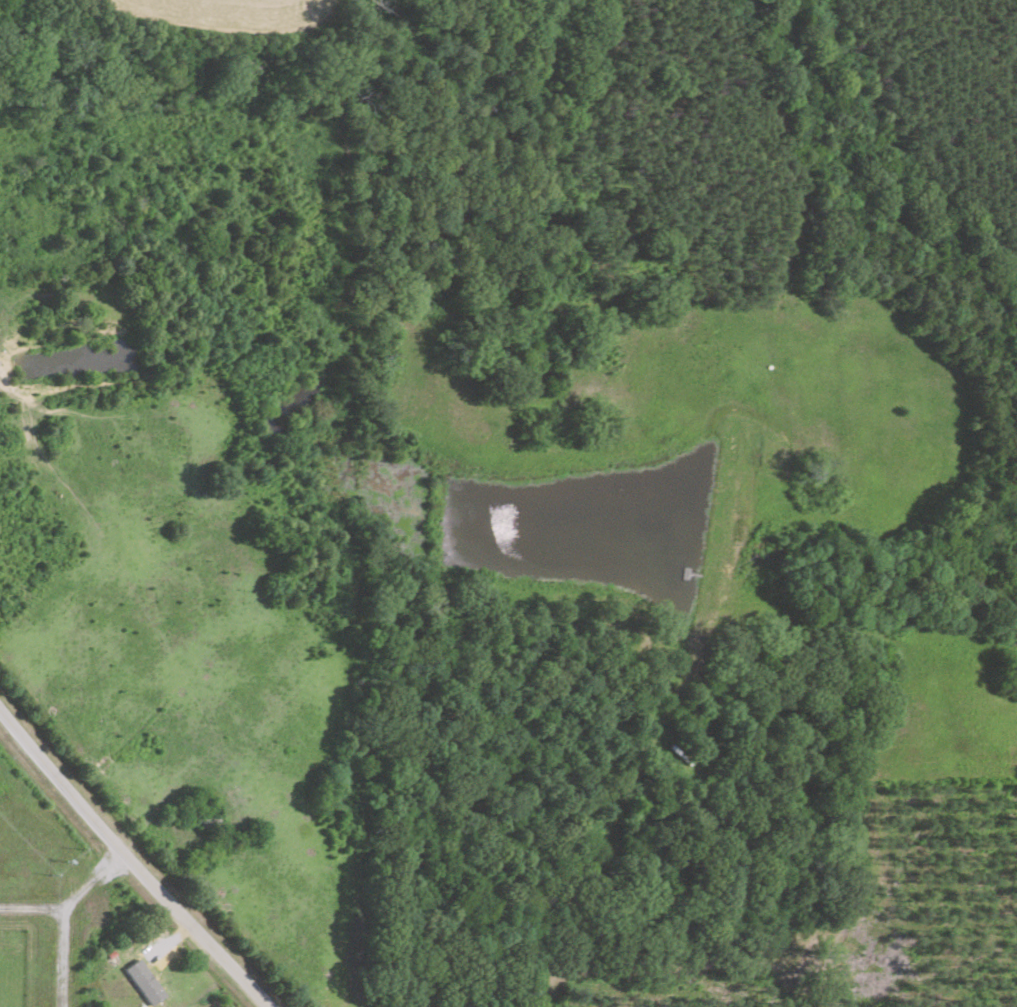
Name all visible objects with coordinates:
building: (204, 822)
road: (132, 862)

